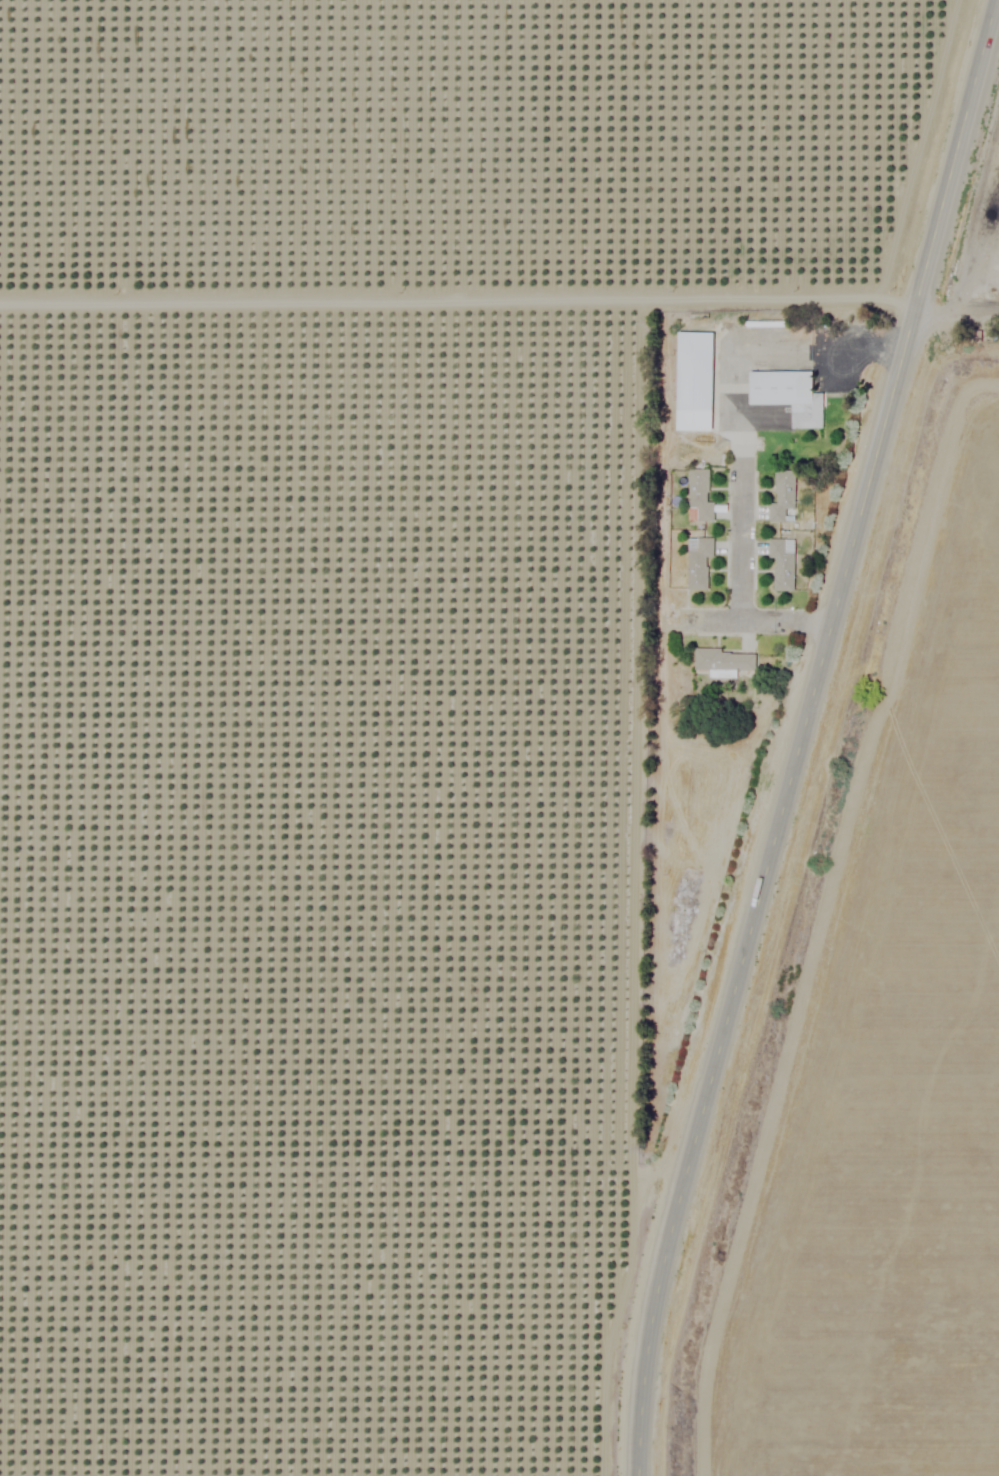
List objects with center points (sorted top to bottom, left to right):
crop: (474, 149)
road: (961, 305)
building: (695, 379)
building: (790, 394)
building: (698, 475)
building: (785, 475)
building: (783, 559)
road: (742, 577)
road: (785, 623)
building: (724, 661)
road: (797, 734)
crop: (317, 889)

